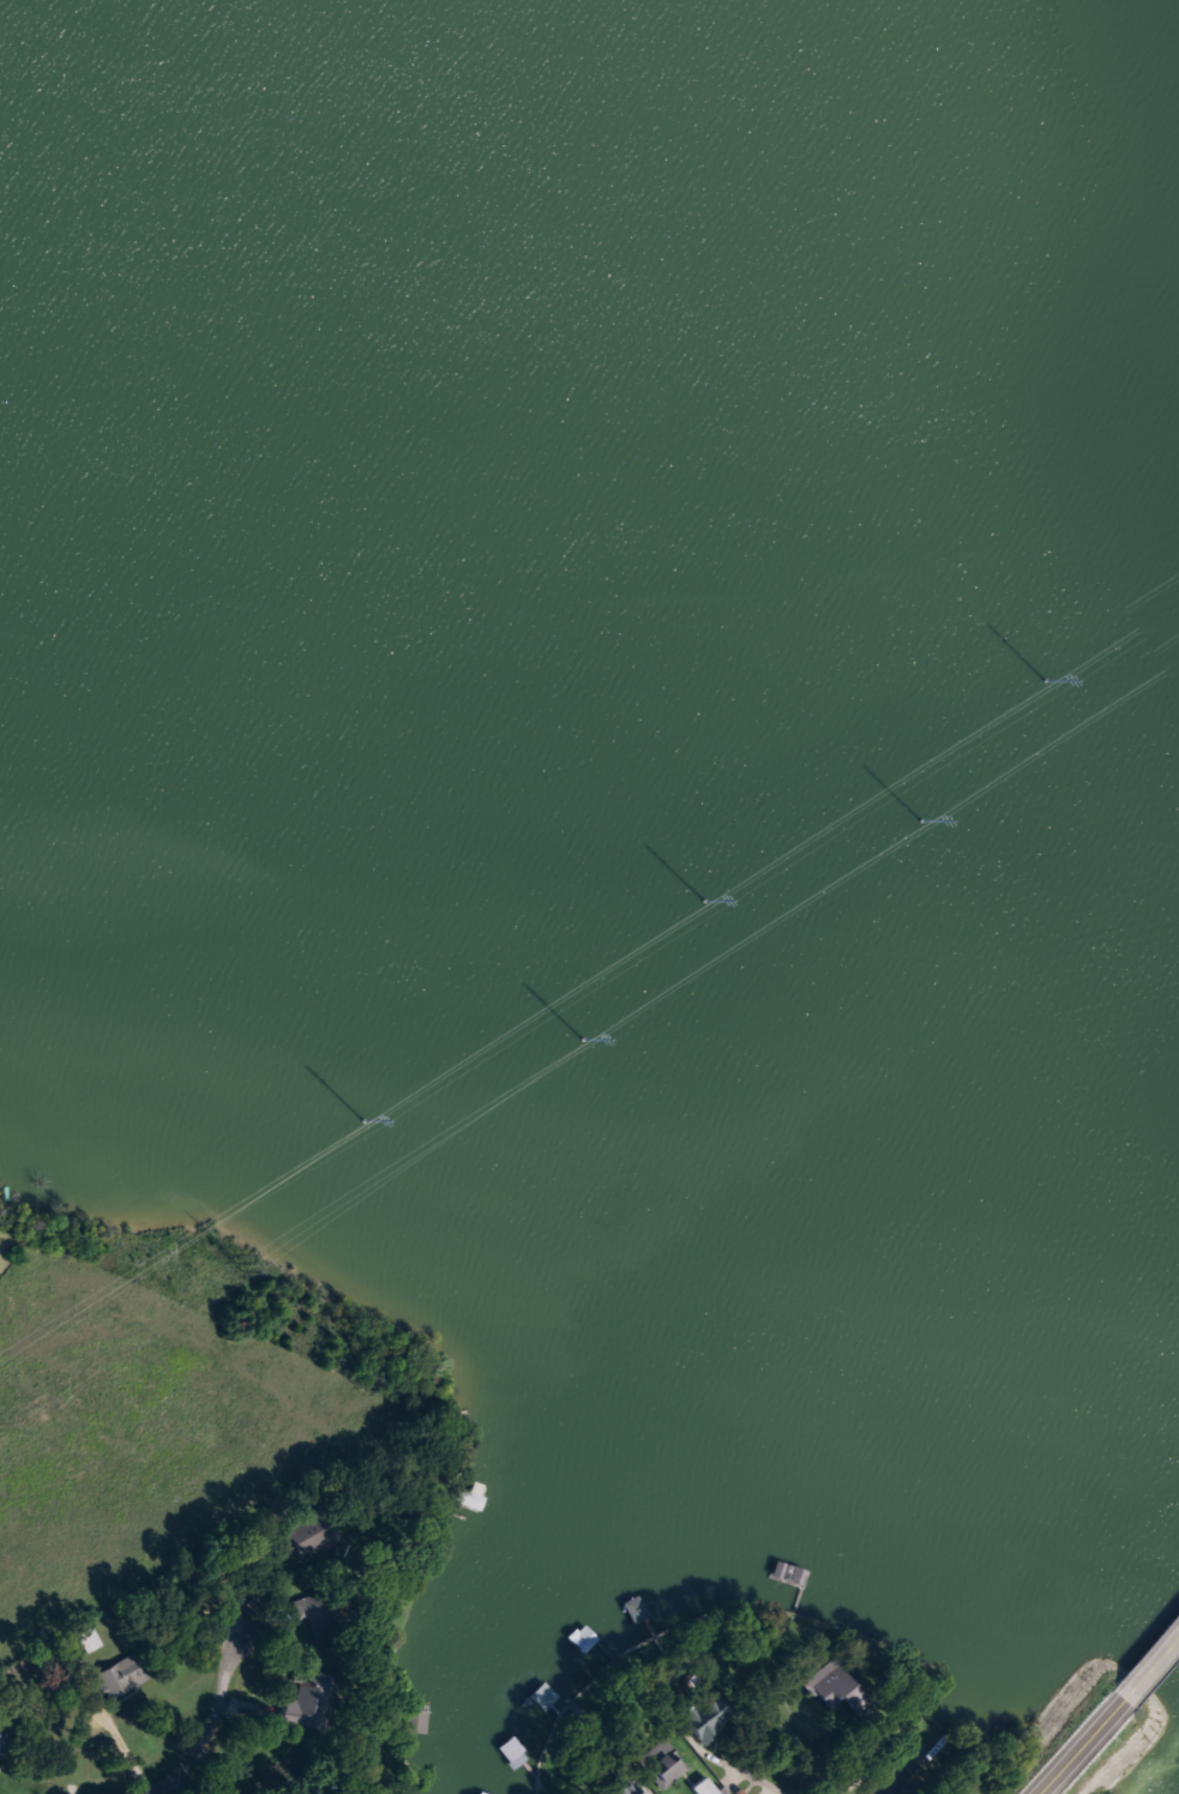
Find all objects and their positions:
building: (479, 1497)
building: (639, 1609)
building: (319, 1615)
building: (585, 1638)
building: (90, 1639)
road: (1153, 1648)
building: (124, 1676)
building: (842, 1688)
building: (546, 1697)
building: (311, 1700)
road: (216, 1709)
building: (709, 1720)
road: (1077, 1735)
building: (5, 1741)
building: (666, 1762)
road: (902, 1774)
building: (624, 1786)
building: (704, 1787)
building: (486, 1793)

